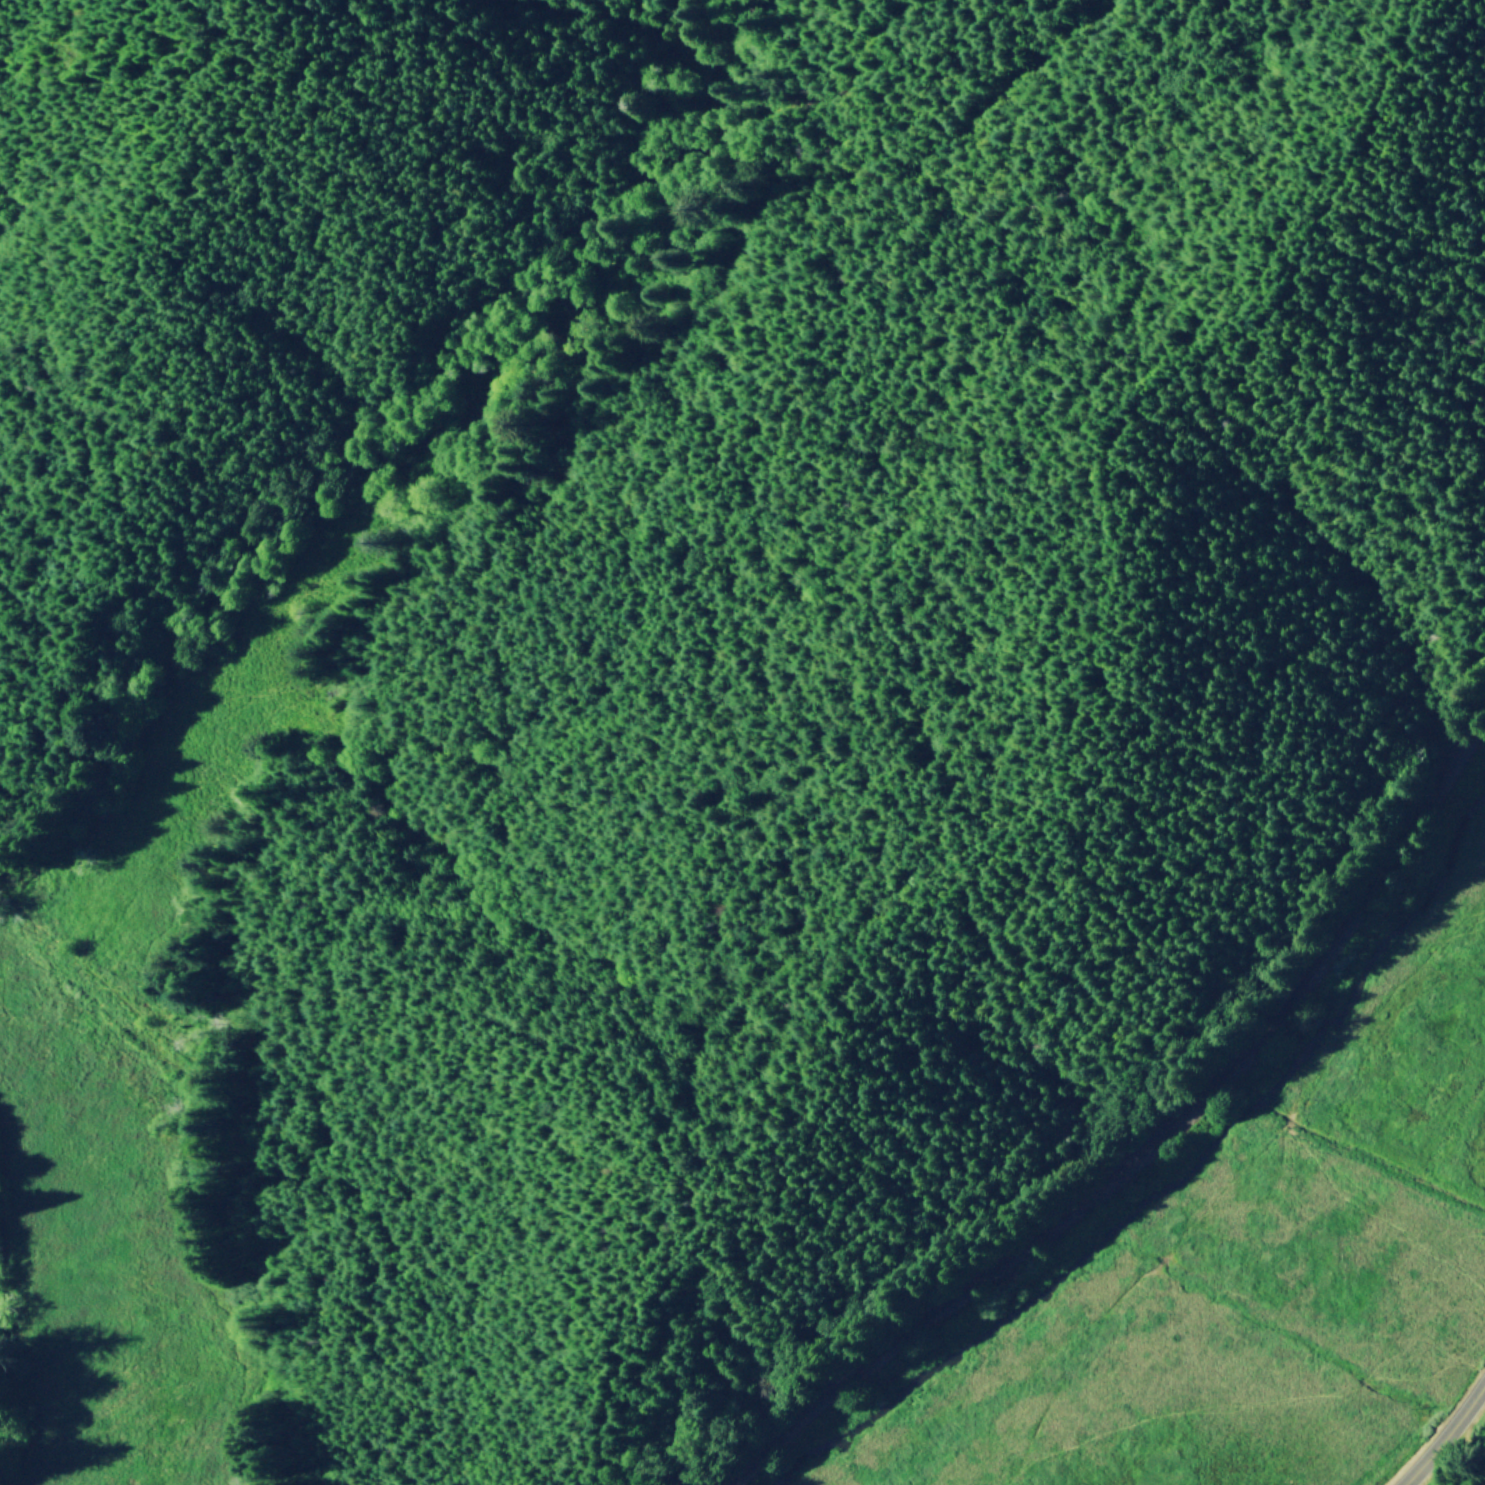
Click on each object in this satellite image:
railway: (1136, 1150)
road: (203, 1155)
road: (1444, 1433)

